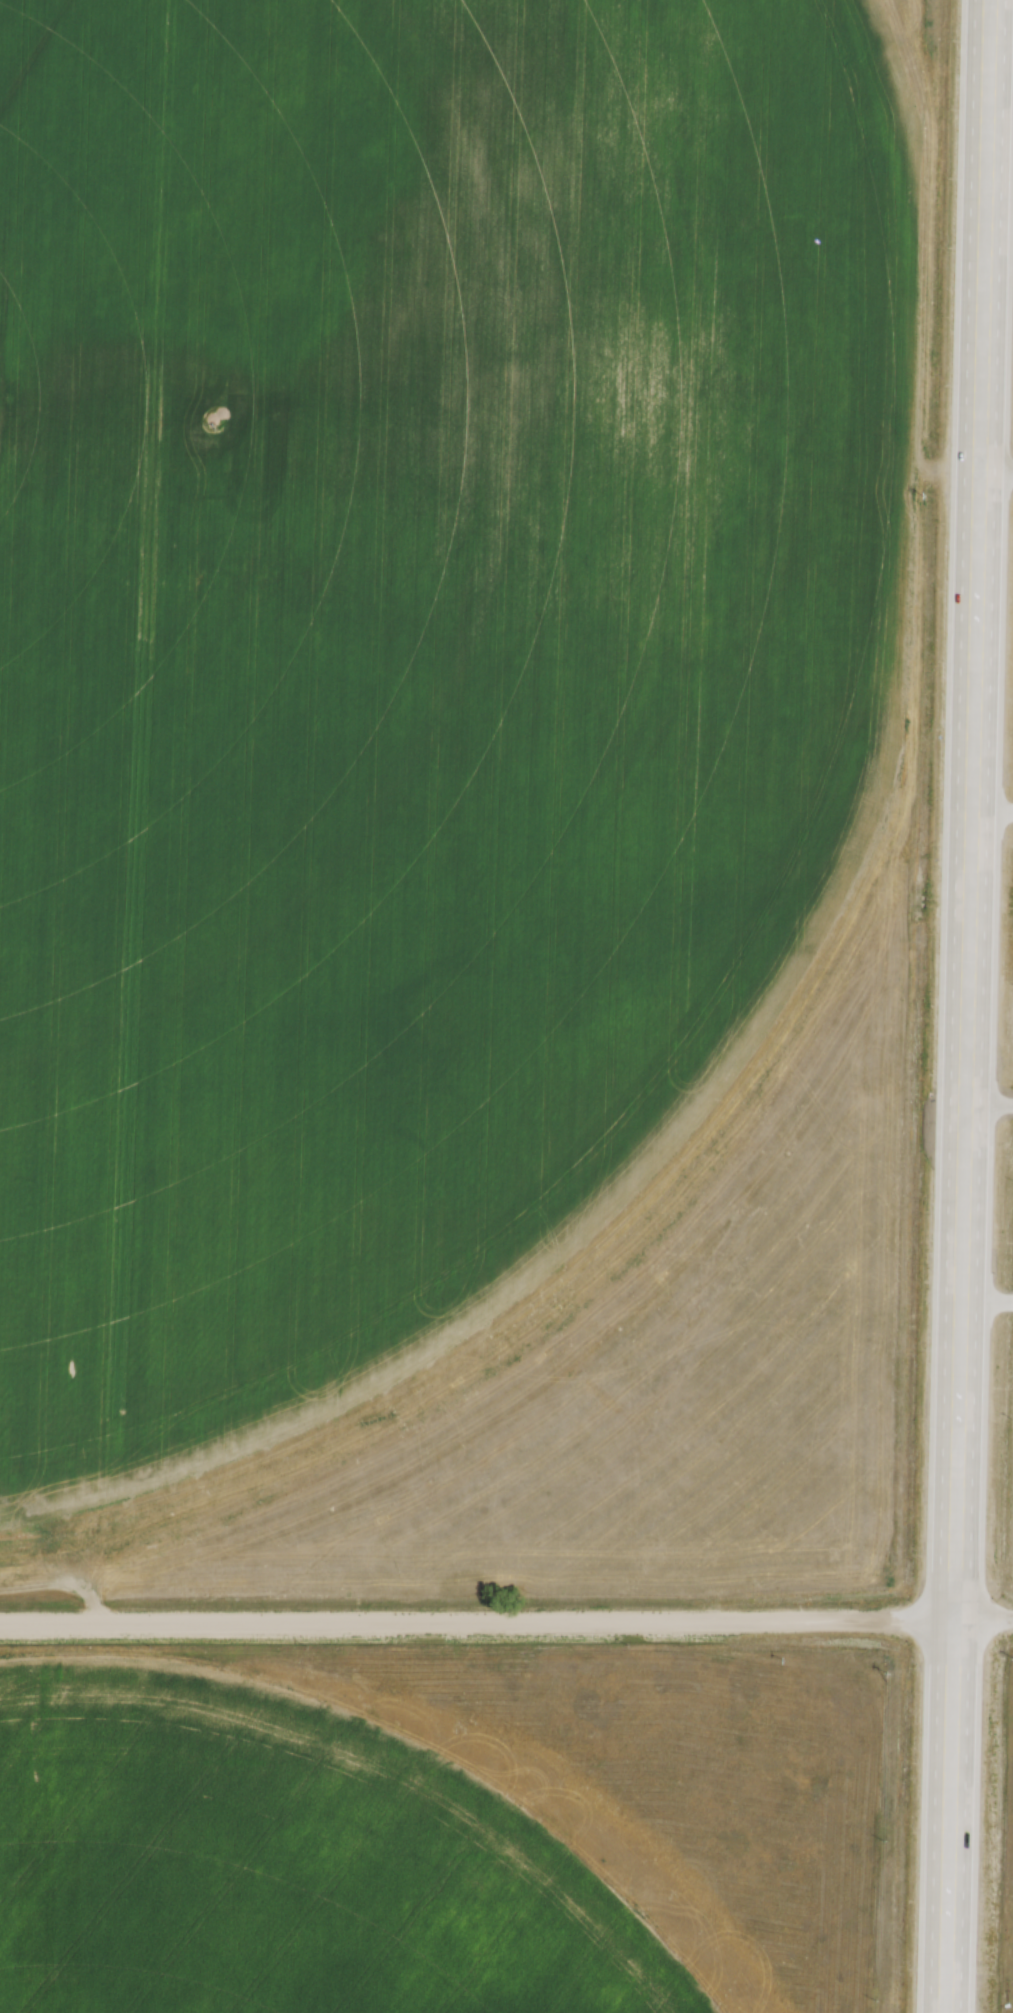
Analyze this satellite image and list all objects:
road: (970, 809)
road: (988, 1098)
road: (997, 1222)
road: (986, 1301)
road: (506, 1622)
road: (947, 1815)

